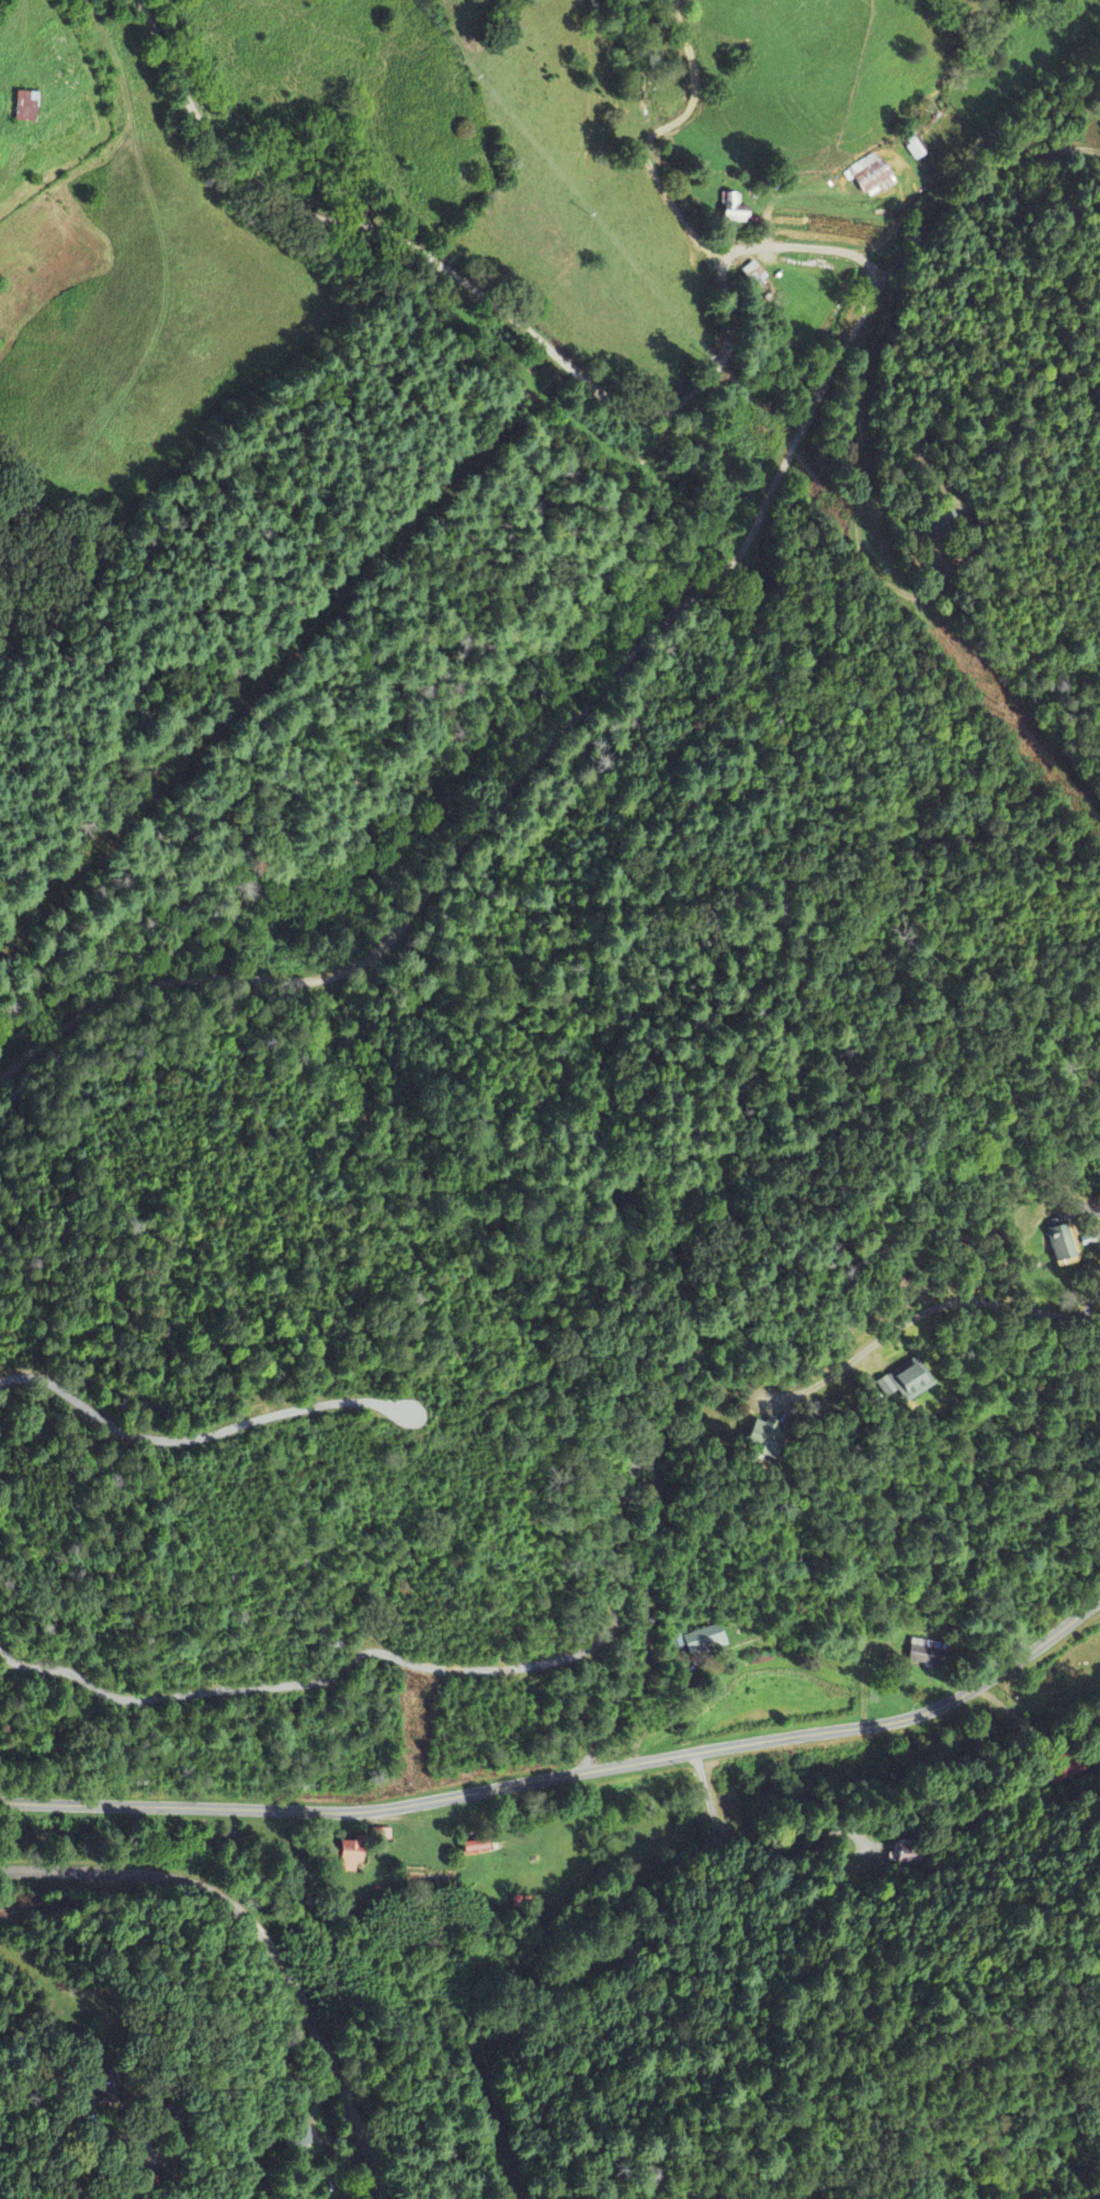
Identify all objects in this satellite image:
building: (25, 106)
building: (870, 177)
building: (734, 209)
road: (828, 381)
building: (1059, 1244)
road: (939, 1304)
building: (905, 1382)
building: (763, 1440)
building: (704, 1641)
building: (925, 1653)
road: (567, 1771)
building: (475, 1849)
building: (350, 1857)
road: (267, 1935)
road: (127, 2118)

